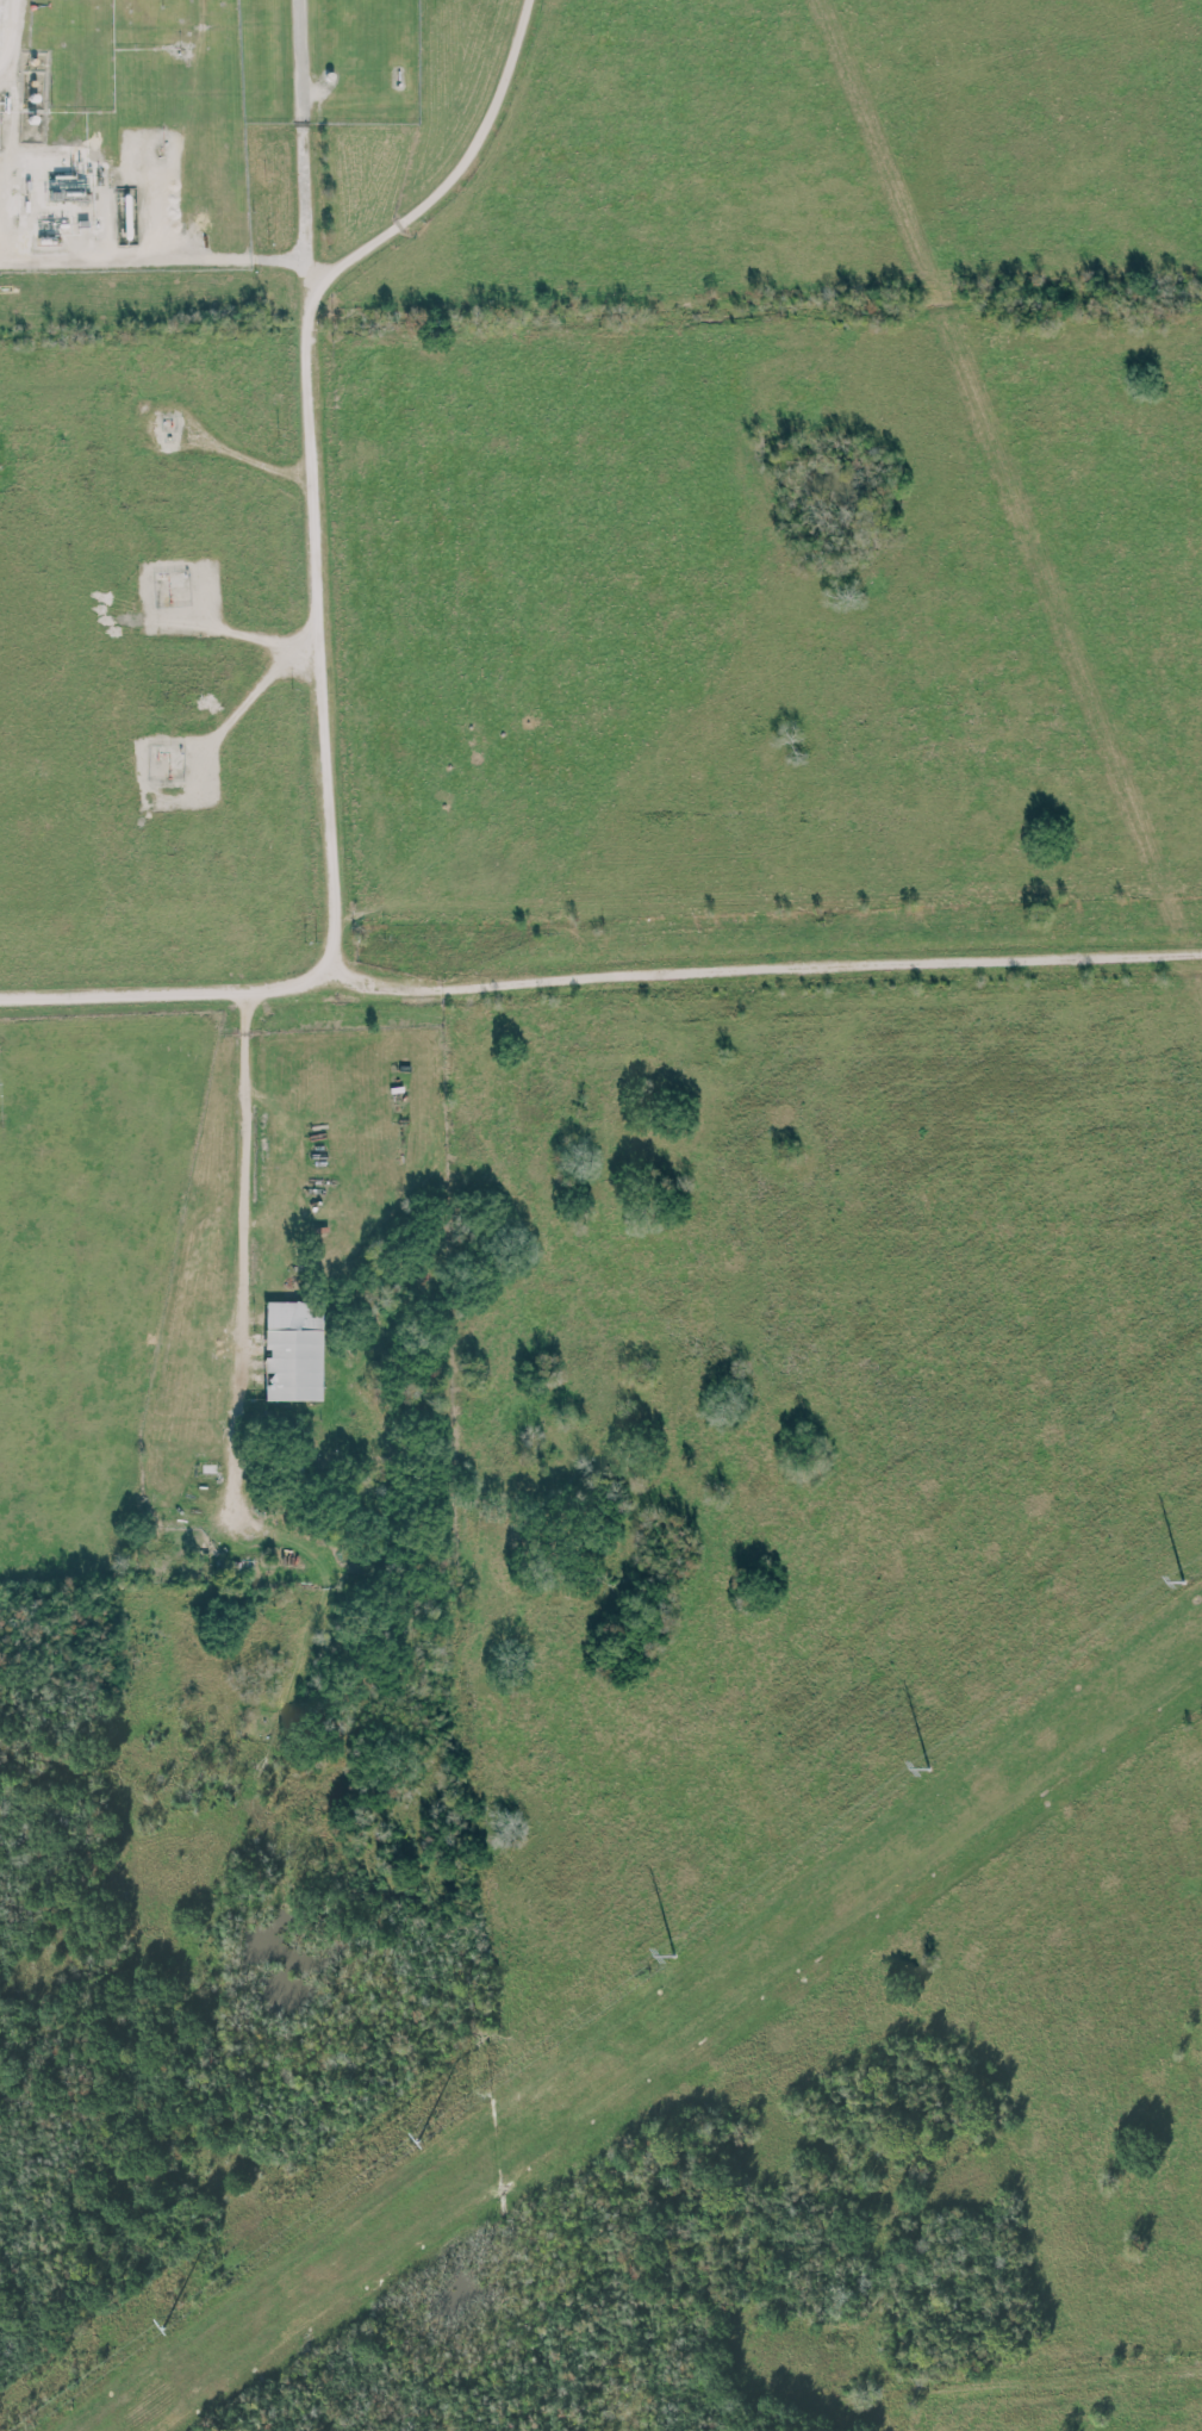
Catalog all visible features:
road: (12, 131)
road: (457, 168)
road: (156, 261)
road: (323, 649)
road: (762, 969)
road: (244, 1255)
building: (292, 1350)
road: (1022, 2363)

